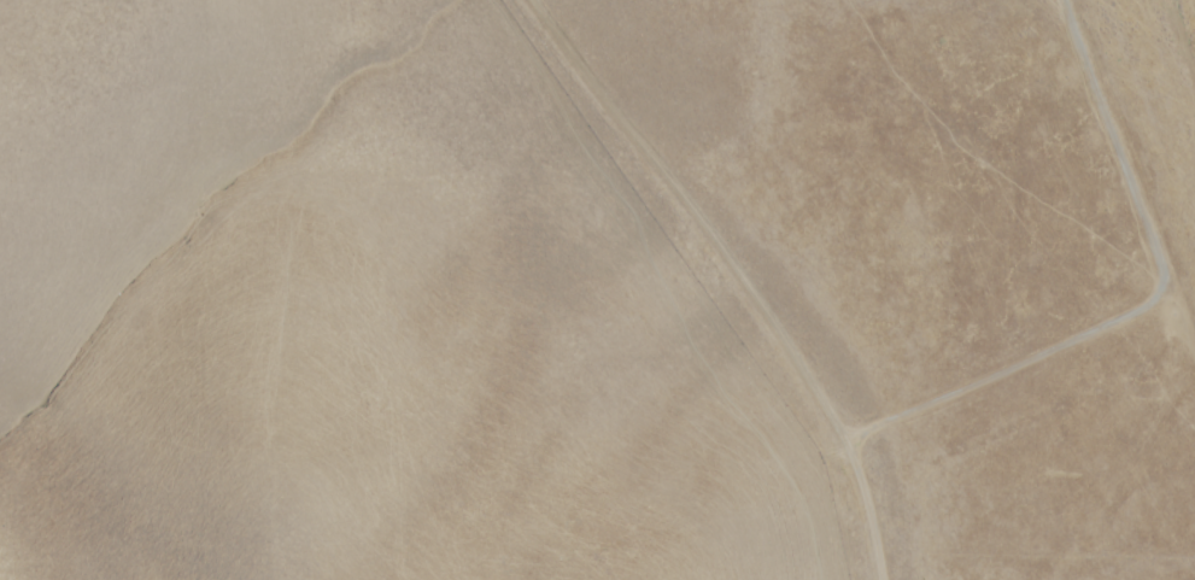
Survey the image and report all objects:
road: (727, 274)

